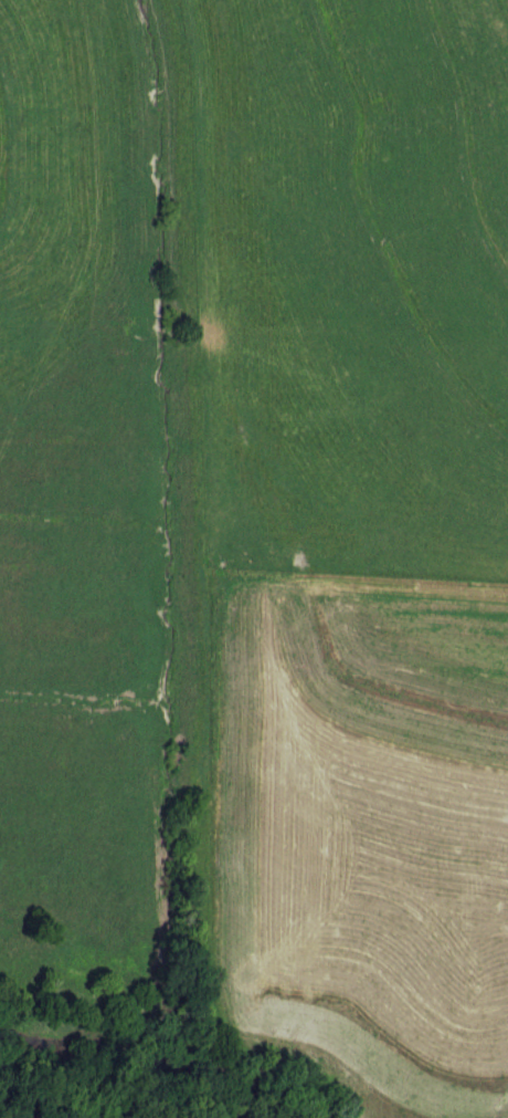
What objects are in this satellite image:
river: (157, 1055)

